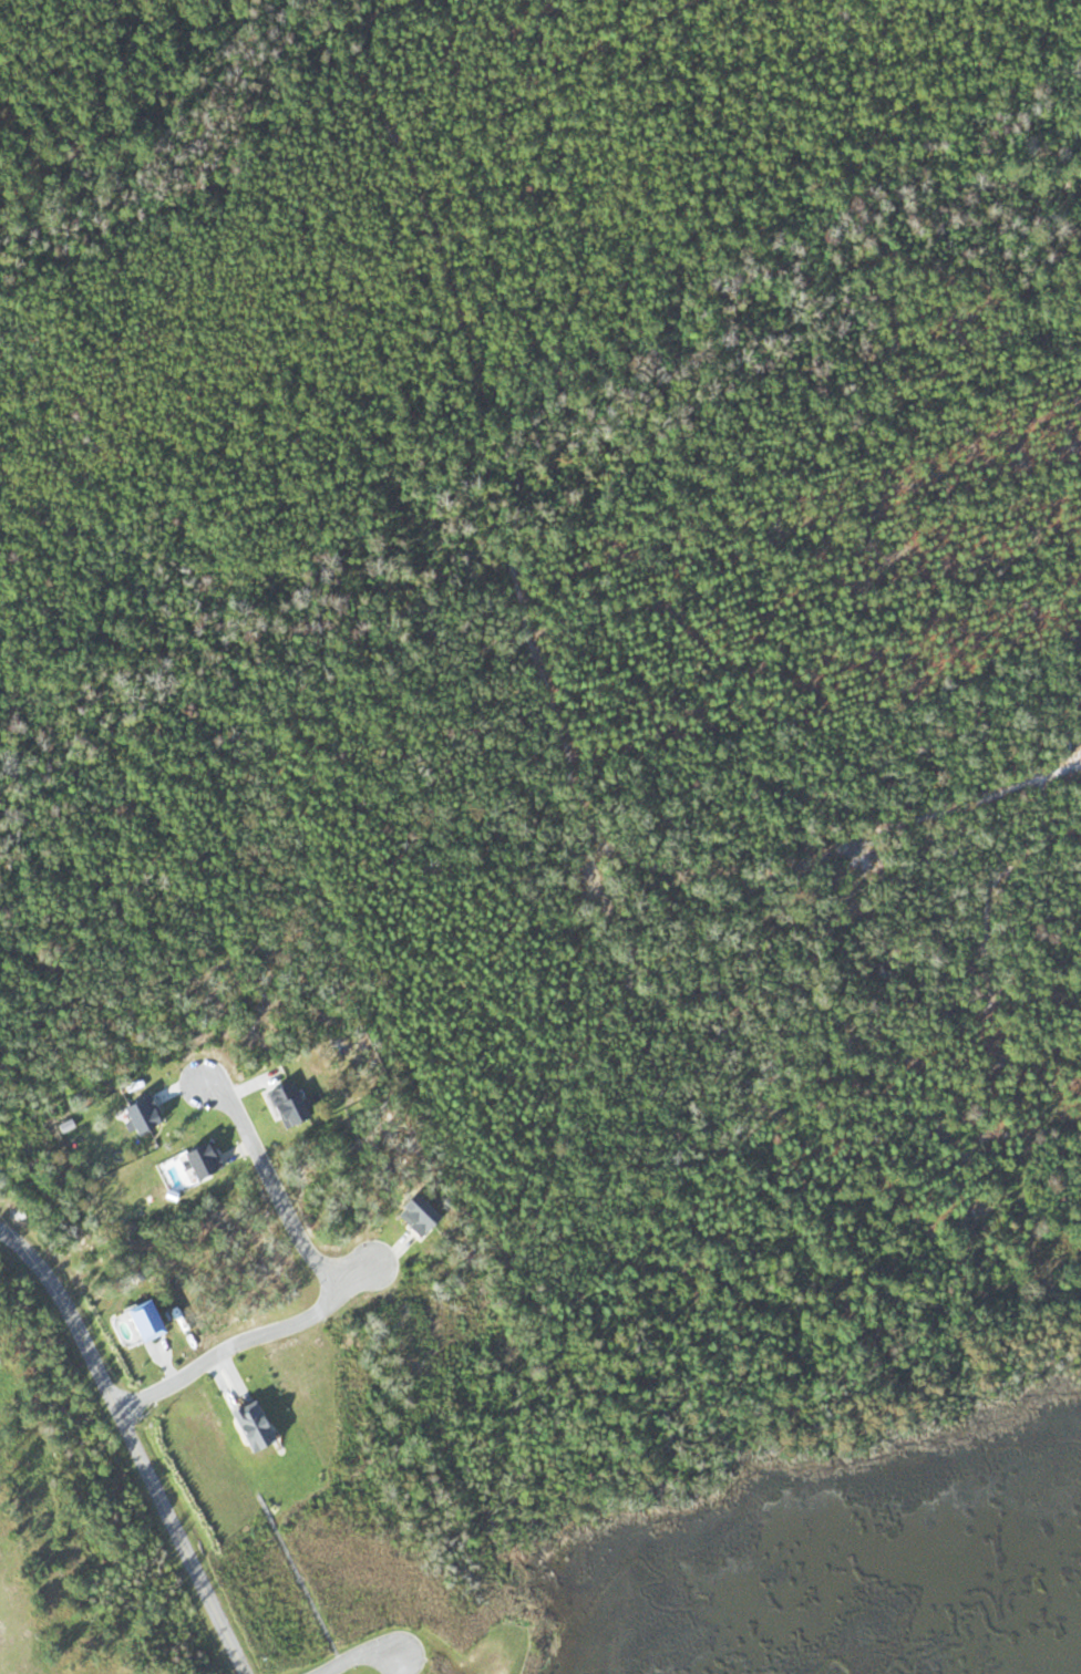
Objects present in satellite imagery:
road: (274, 1191)
building: (133, 1320)
road: (246, 1340)
road: (137, 1443)
road: (351, 1656)

